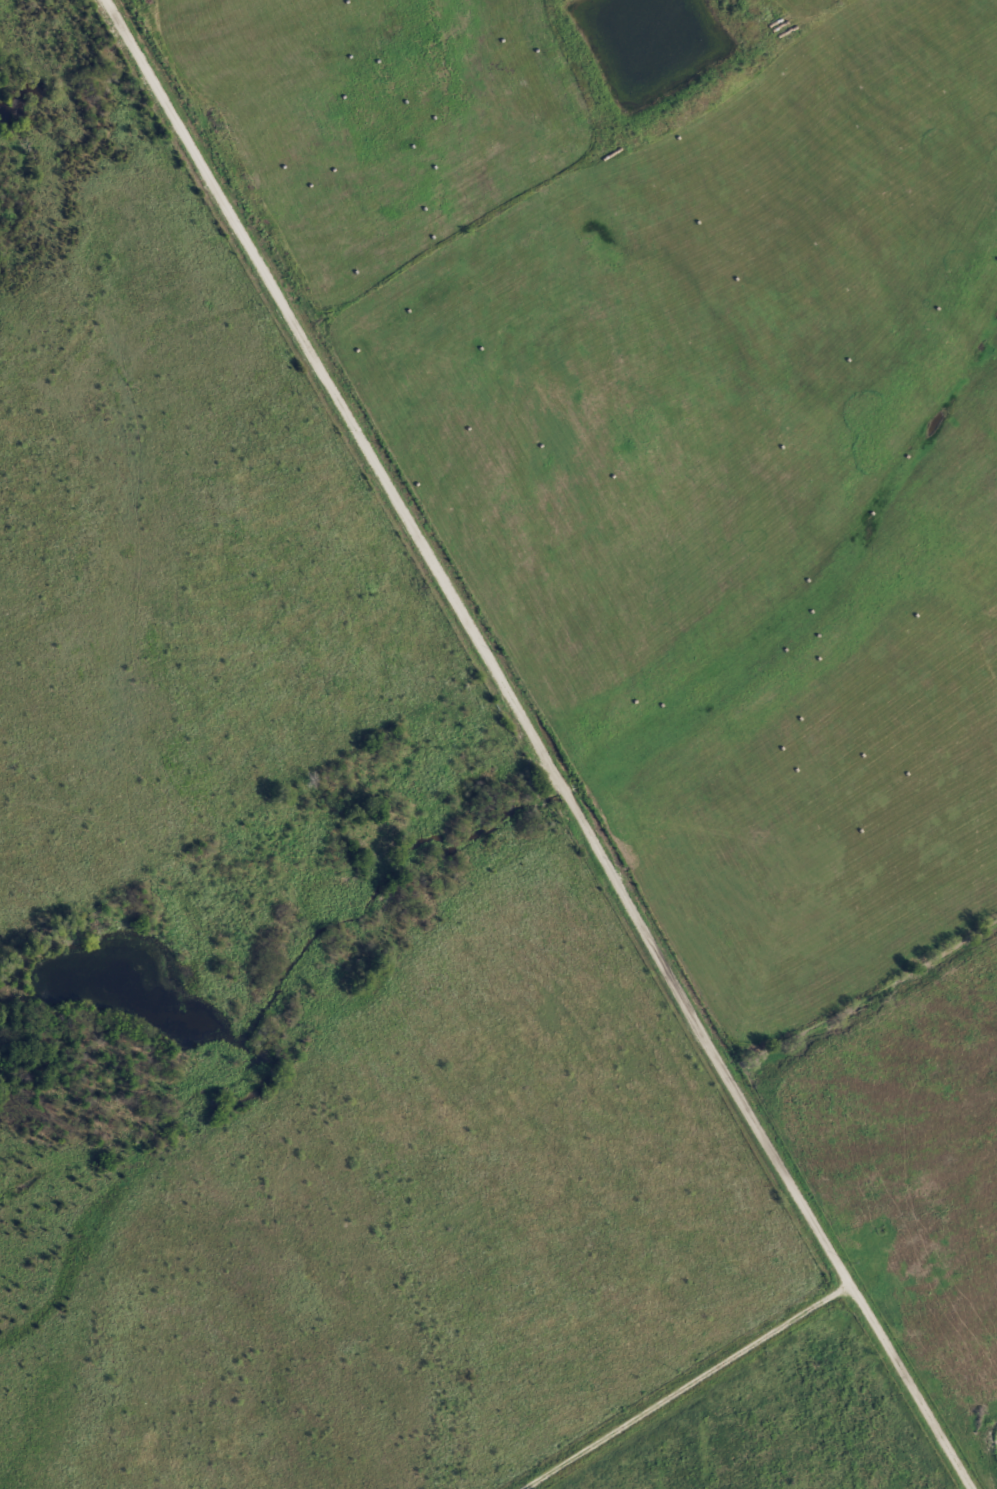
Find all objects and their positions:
road: (545, 742)
road: (682, 1385)

